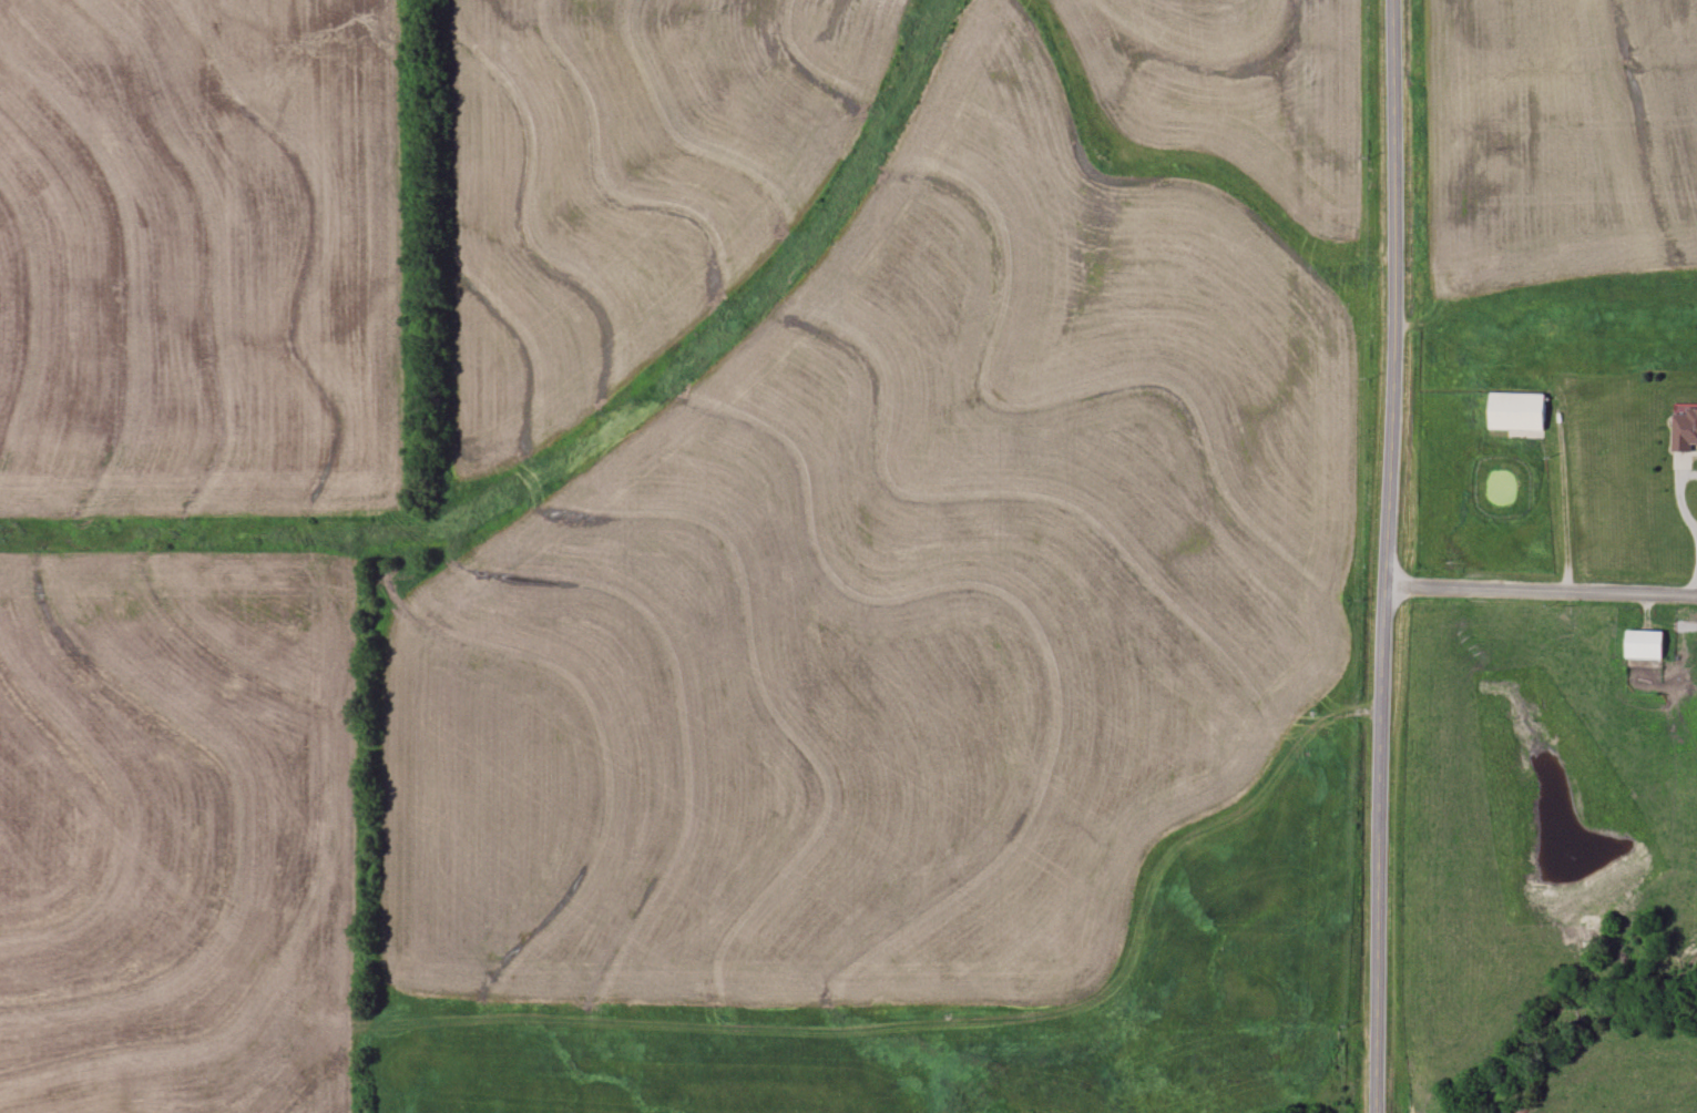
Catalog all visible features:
road: (1394, 293)
building: (1516, 411)
building: (1685, 429)
road: (1680, 499)
road: (1564, 502)
road: (1695, 581)
road: (1541, 591)
building: (1644, 644)
road: (1378, 848)

